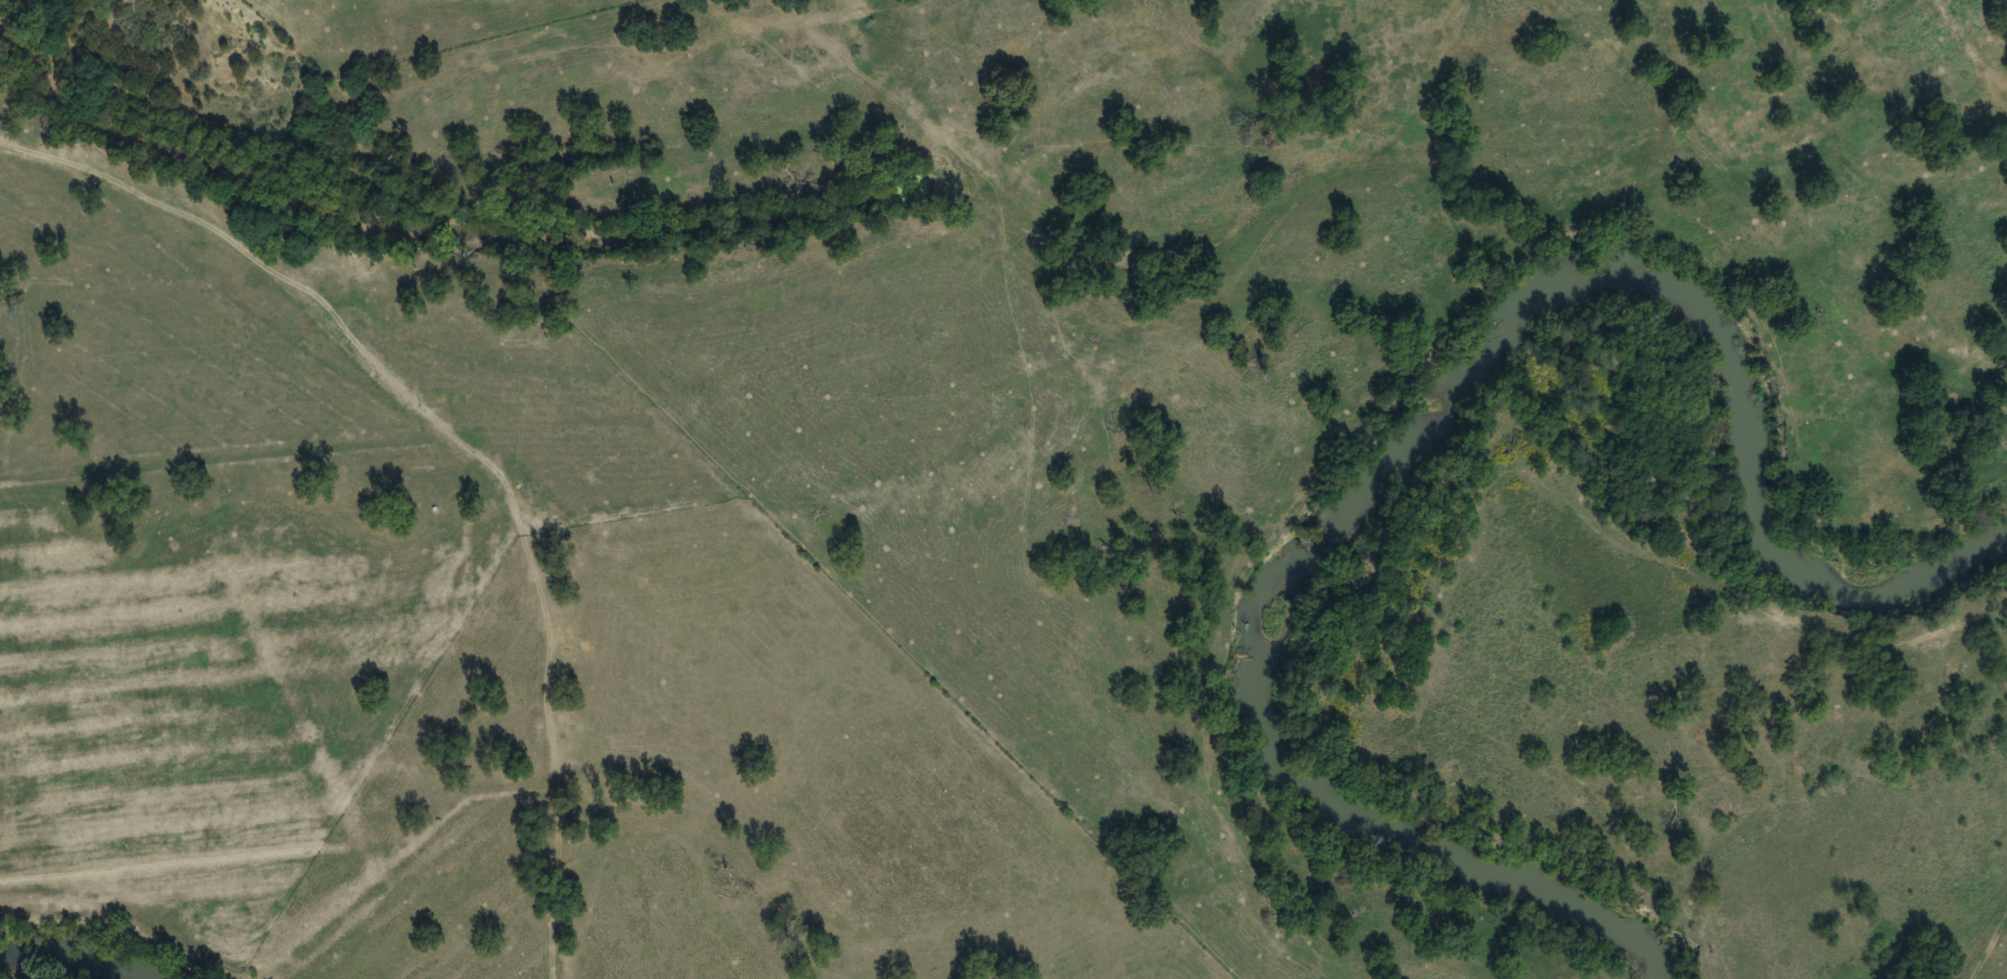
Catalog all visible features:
river: (1416, 441)
river: (55, 976)

